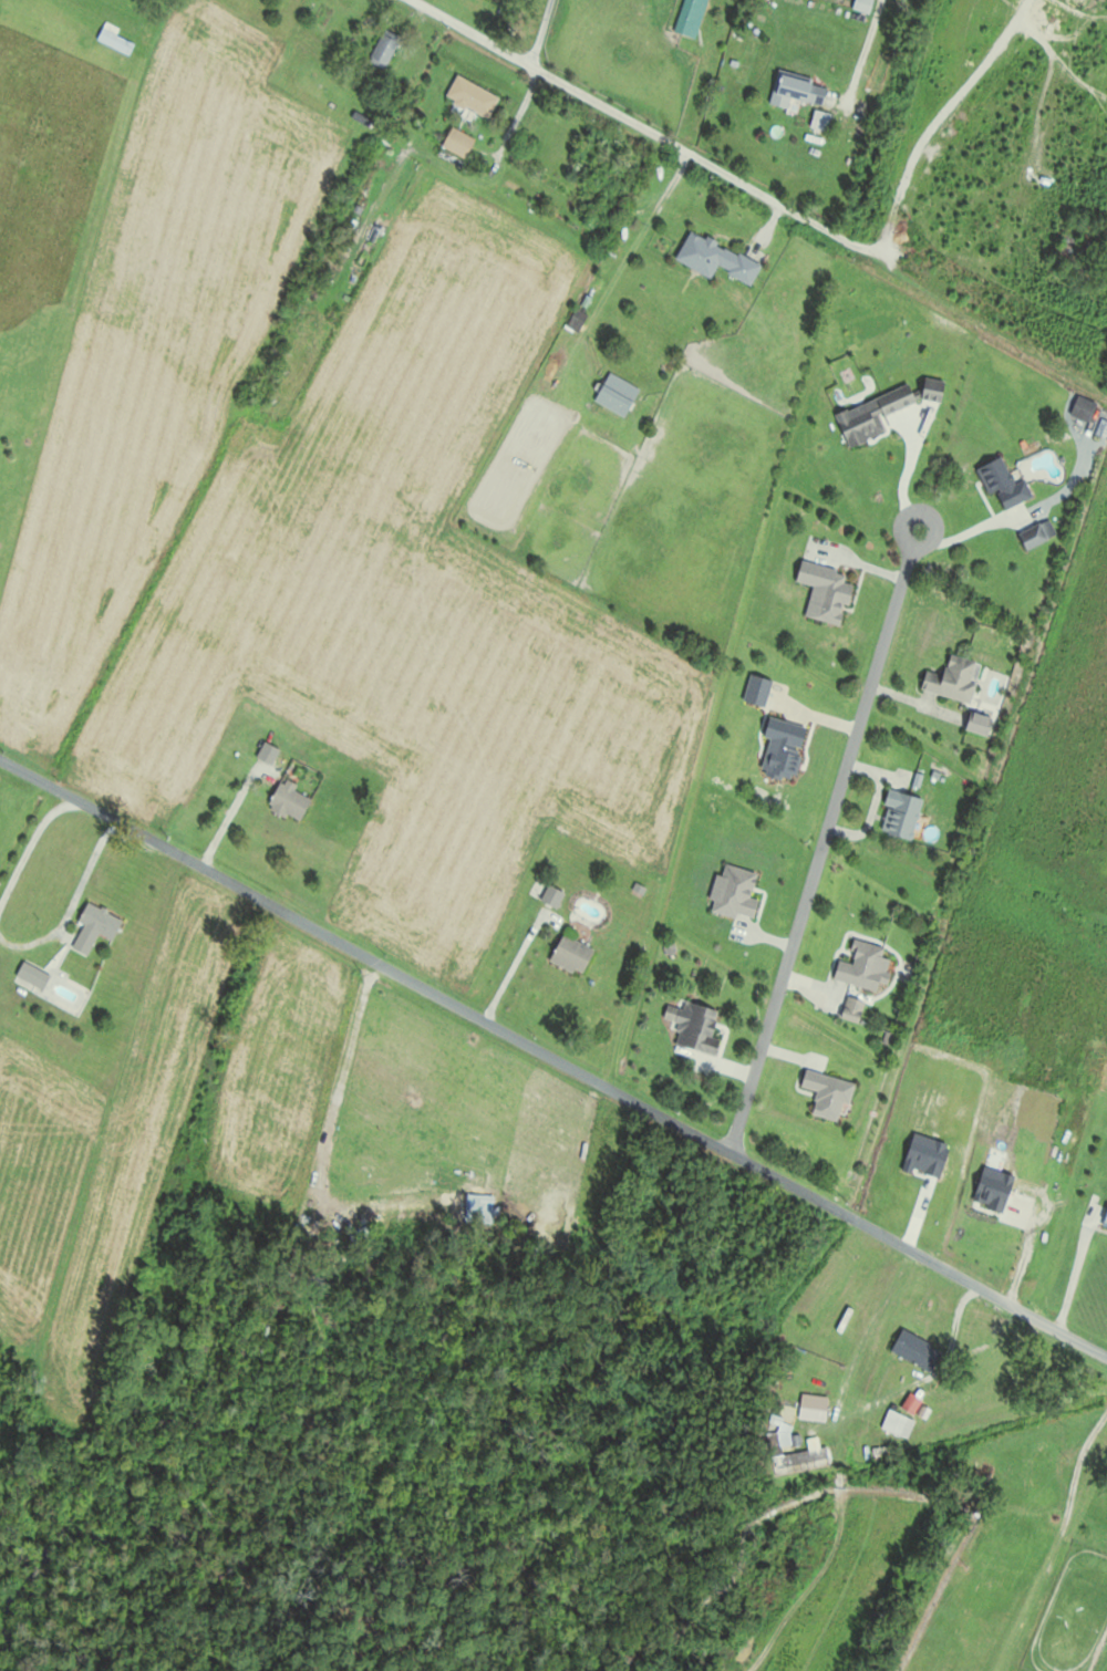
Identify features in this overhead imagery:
building: (696, 12)
road: (540, 32)
building: (115, 40)
building: (384, 50)
road: (863, 51)
building: (799, 92)
building: (474, 98)
road: (932, 118)
road: (639, 124)
building: (458, 143)
building: (716, 259)
building: (578, 320)
building: (935, 388)
building: (619, 394)
building: (873, 415)
road: (909, 464)
building: (1004, 482)
building: (827, 591)
building: (954, 678)
road: (837, 793)
building: (290, 800)
building: (902, 813)
building: (736, 893)
building: (95, 927)
building: (572, 954)
building: (866, 967)
building: (34, 975)
building: (695, 1026)
road: (551, 1059)
building: (829, 1093)
building: (1106, 1224)
road: (1075, 1274)
building: (918, 1350)
building: (912, 1402)
building: (898, 1423)
building: (804, 1457)
road: (1048, 1535)

